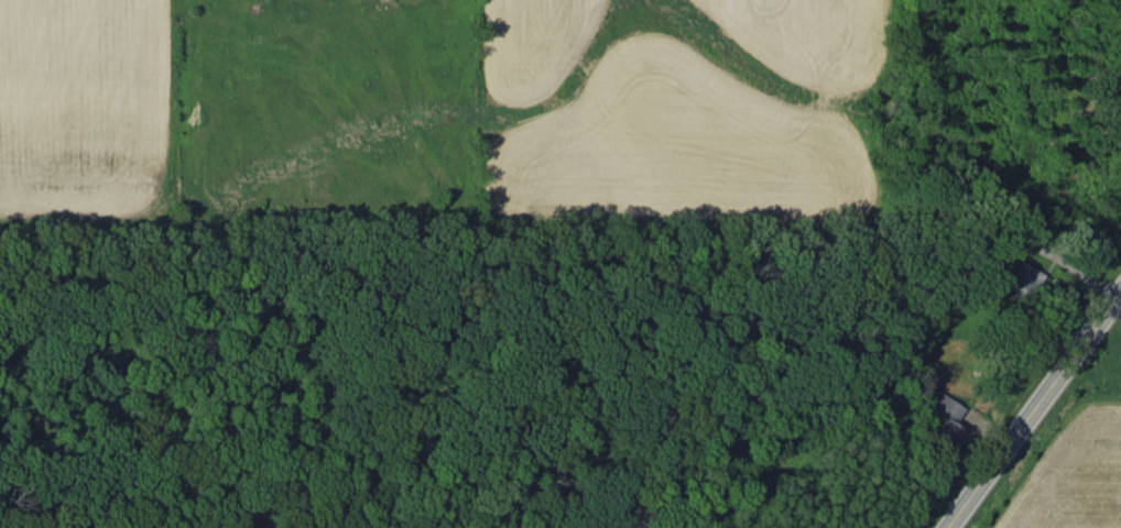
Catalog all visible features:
building: (1019, 280)
road: (1035, 411)
building: (944, 420)

